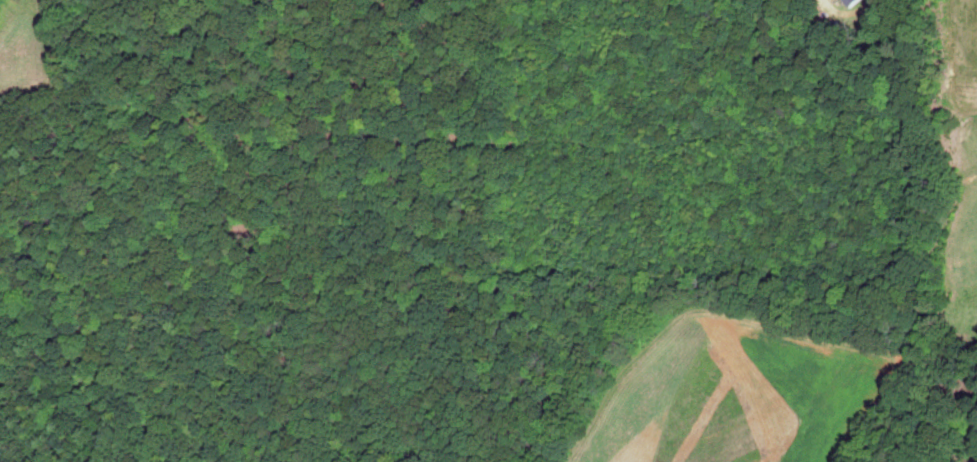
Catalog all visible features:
building: (850, 1)

